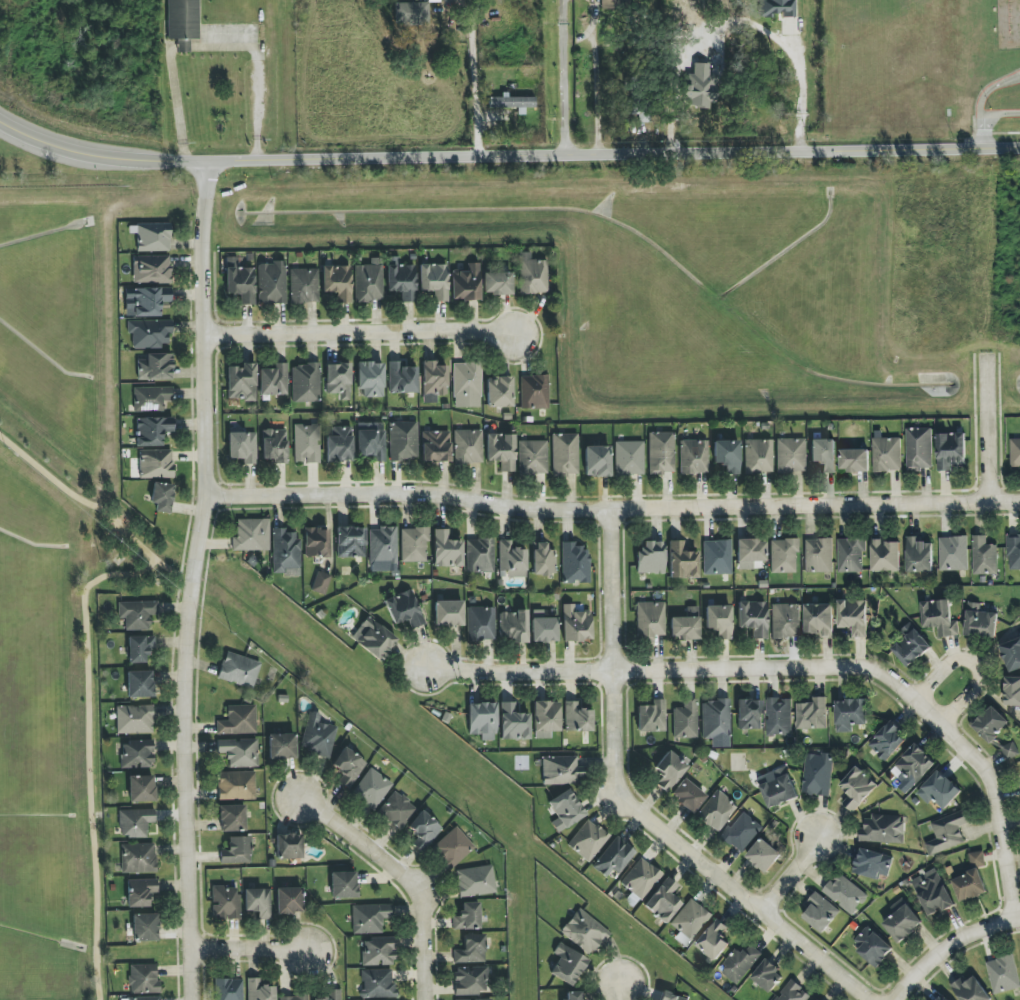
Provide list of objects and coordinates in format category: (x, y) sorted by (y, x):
building: (614, 4)
building: (776, 8)
building: (410, 13)
building: (183, 19)
building: (708, 37)
road: (210, 44)
building: (183, 46)
road: (560, 76)
road: (482, 77)
building: (699, 87)
road: (987, 89)
road: (798, 91)
road: (595, 93)
building: (511, 102)
building: (641, 111)
road: (987, 116)
road: (49, 144)
road: (560, 153)
building: (153, 237)
building: (151, 269)
building: (532, 275)
building: (400, 279)
building: (434, 280)
building: (239, 281)
building: (369, 281)
building: (337, 282)
building: (271, 283)
building: (466, 283)
building: (497, 283)
building: (304, 286)
building: (150, 301)
building: (149, 333)
road: (364, 336)
building: (155, 367)
building: (401, 378)
building: (370, 379)
building: (274, 380)
building: (338, 380)
building: (433, 380)
building: (241, 382)
building: (305, 383)
building: (466, 385)
building: (499, 392)
building: (534, 392)
building: (150, 398)
road: (987, 429)
building: (152, 430)
building: (403, 441)
building: (306, 443)
building: (338, 444)
building: (371, 444)
building: (274, 445)
building: (435, 446)
building: (242, 447)
building: (467, 447)
building: (919, 449)
building: (501, 450)
building: (951, 450)
building: (1015, 452)
building: (661, 453)
building: (564, 454)
building: (887, 454)
building: (727, 455)
building: (790, 455)
building: (823, 455)
building: (758, 456)
building: (532, 457)
building: (693, 457)
building: (629, 458)
building: (855, 460)
building: (597, 461)
building: (156, 464)
building: (162, 497)
road: (98, 508)
road: (611, 511)
building: (251, 535)
building: (350, 542)
building: (316, 543)
building: (414, 545)
building: (382, 546)
building: (446, 550)
building: (285, 552)
building: (1014, 552)
building: (749, 553)
building: (953, 553)
park: (130, 555)
building: (479, 555)
building: (818, 555)
building: (850, 555)
building: (886, 555)
building: (919, 555)
building: (783, 556)
building: (984, 556)
building: (716, 557)
building: (650, 558)
building: (542, 560)
building: (511, 561)
building: (682, 561)
building: (574, 564)
road: (194, 580)
building: (320, 583)
building: (404, 609)
building: (448, 613)
building: (137, 614)
building: (854, 617)
building: (939, 617)
building: (752, 618)
building: (819, 619)
building: (650, 620)
building: (718, 620)
building: (785, 621)
building: (980, 621)
building: (481, 624)
building: (575, 624)
building: (685, 625)
building: (514, 626)
building: (544, 630)
building: (374, 639)
building: (911, 647)
building: (139, 648)
building: (1012, 654)
road: (974, 667)
road: (800, 669)
building: (238, 670)
building: (139, 684)
building: (1012, 691)
building: (749, 714)
building: (812, 714)
building: (851, 714)
building: (546, 716)
building: (651, 717)
building: (779, 717)
building: (576, 718)
building: (134, 719)
building: (482, 720)
building: (685, 720)
building: (238, 721)
building: (716, 722)
building: (513, 723)
building: (990, 724)
building: (317, 735)
building: (887, 741)
building: (281, 746)
road: (615, 747)
building: (1010, 750)
building: (239, 752)
building: (137, 754)
road: (89, 756)
building: (914, 765)
building: (348, 767)
building: (561, 770)
building: (669, 771)
building: (818, 774)
building: (236, 785)
building: (778, 787)
building: (857, 788)
building: (141, 789)
building: (371, 789)
building: (939, 790)
building: (687, 795)
building: (397, 810)
building: (564, 810)
building: (716, 811)
building: (232, 818)
building: (135, 822)
building: (882, 829)
building: (423, 830)
building: (742, 832)
building: (947, 832)
building: (588, 840)
building: (288, 846)
building: (453, 847)
building: (236, 851)
building: (764, 855)
building: (614, 857)
building: (138, 858)
building: (977, 859)
building: (872, 864)
road: (792, 874)
road: (393, 875)
building: (640, 879)
building: (475, 881)
building: (343, 885)
building: (969, 886)
building: (140, 892)
building: (933, 892)
building: (844, 893)
building: (663, 900)
building: (288, 901)
building: (225, 902)
building: (258, 902)
building: (820, 912)
building: (467, 917)
building: (369, 918)
building: (902, 921)
building: (690, 922)
building: (145, 927)
building: (584, 932)
building: (714, 940)
road: (959, 940)
building: (873, 947)
building: (471, 950)
building: (378, 952)
road: (818, 955)
road: (261, 957)
building: (740, 963)
building: (567, 964)
building: (1003, 974)
building: (767, 975)
building: (143, 979)
building: (470, 980)
building: (377, 984)
building: (228, 989)
road: (901, 989)
building: (259, 990)
building: (970, 990)
road: (621, 992)
building: (793, 992)
building: (331, 995)
building: (573, 996)
building: (669, 996)
building: (293, 997)
building: (144, 998)
building: (941, 998)
building: (483, 999)

